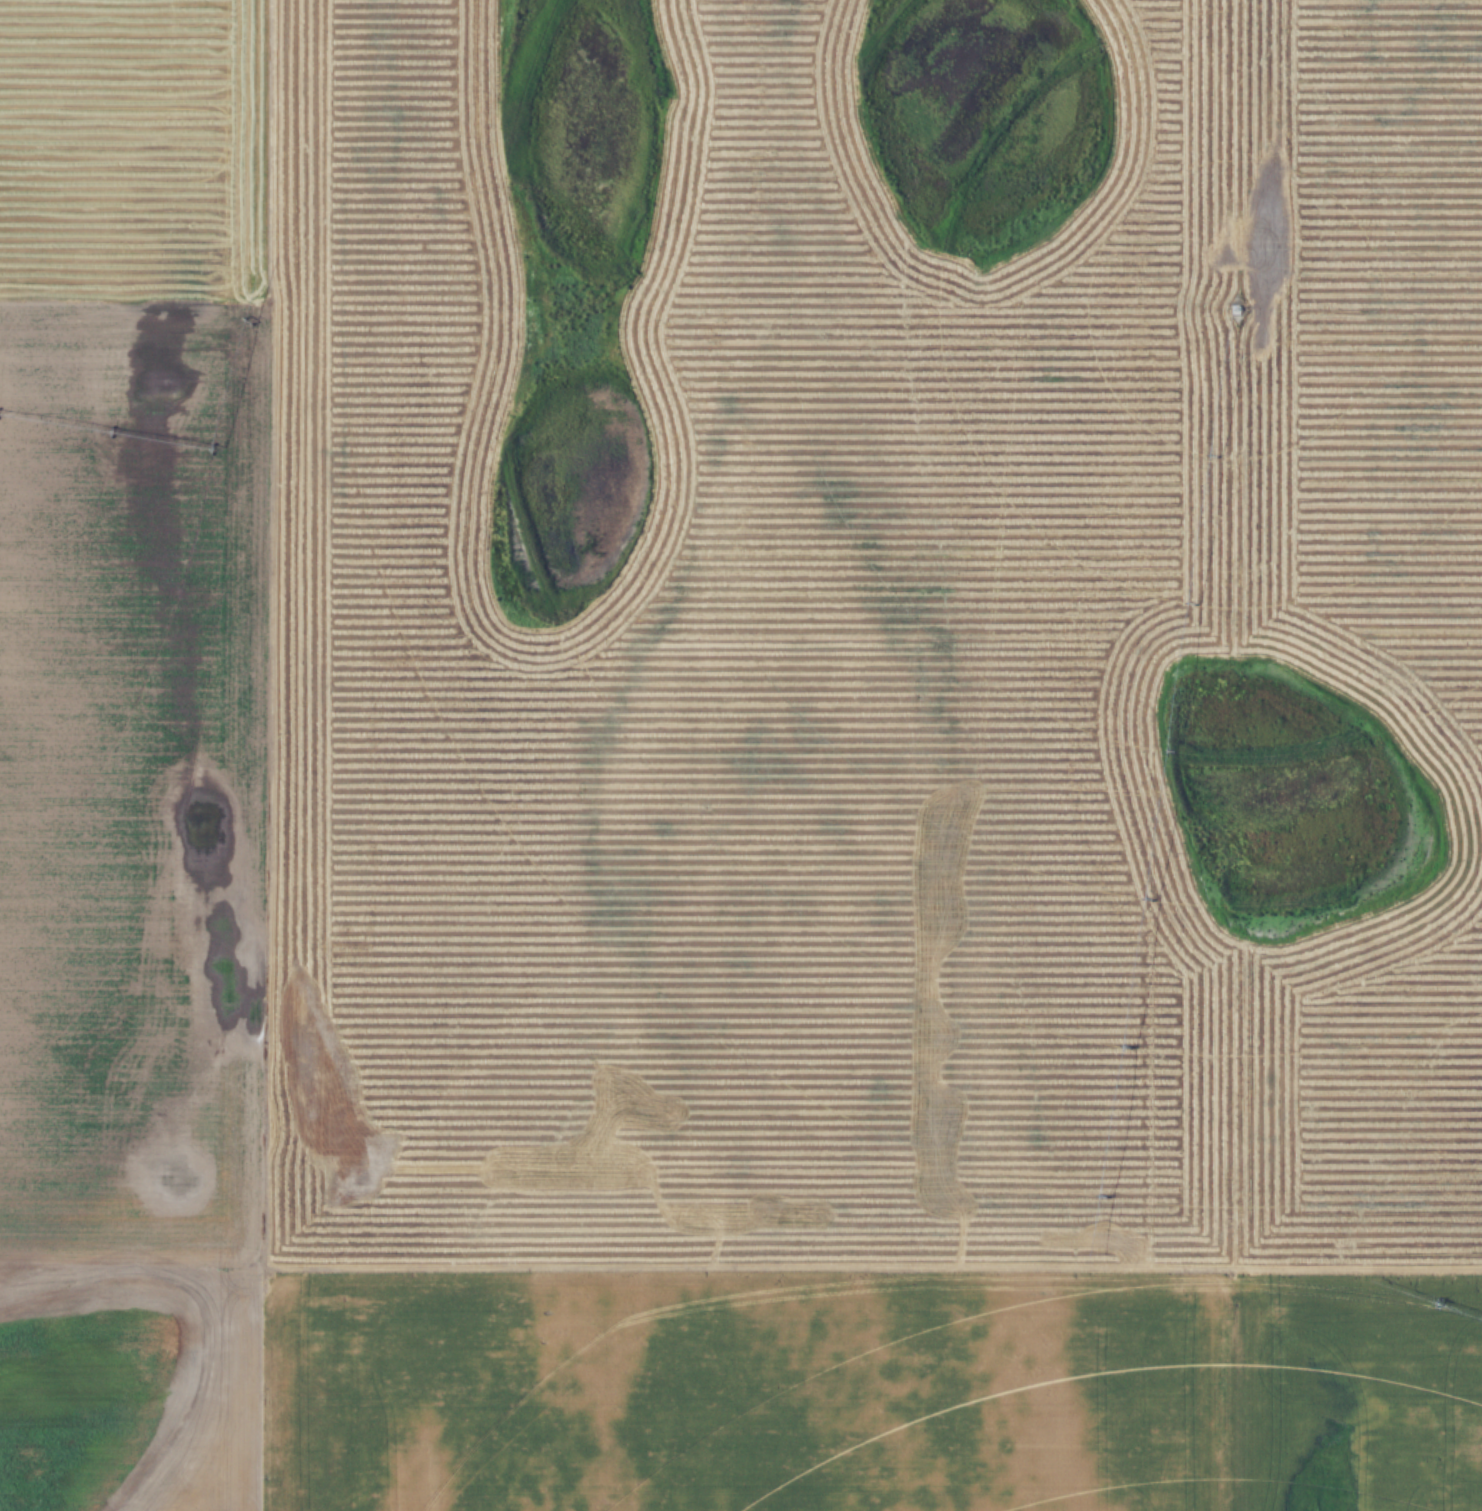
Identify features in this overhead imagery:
building: (1202, 923)

